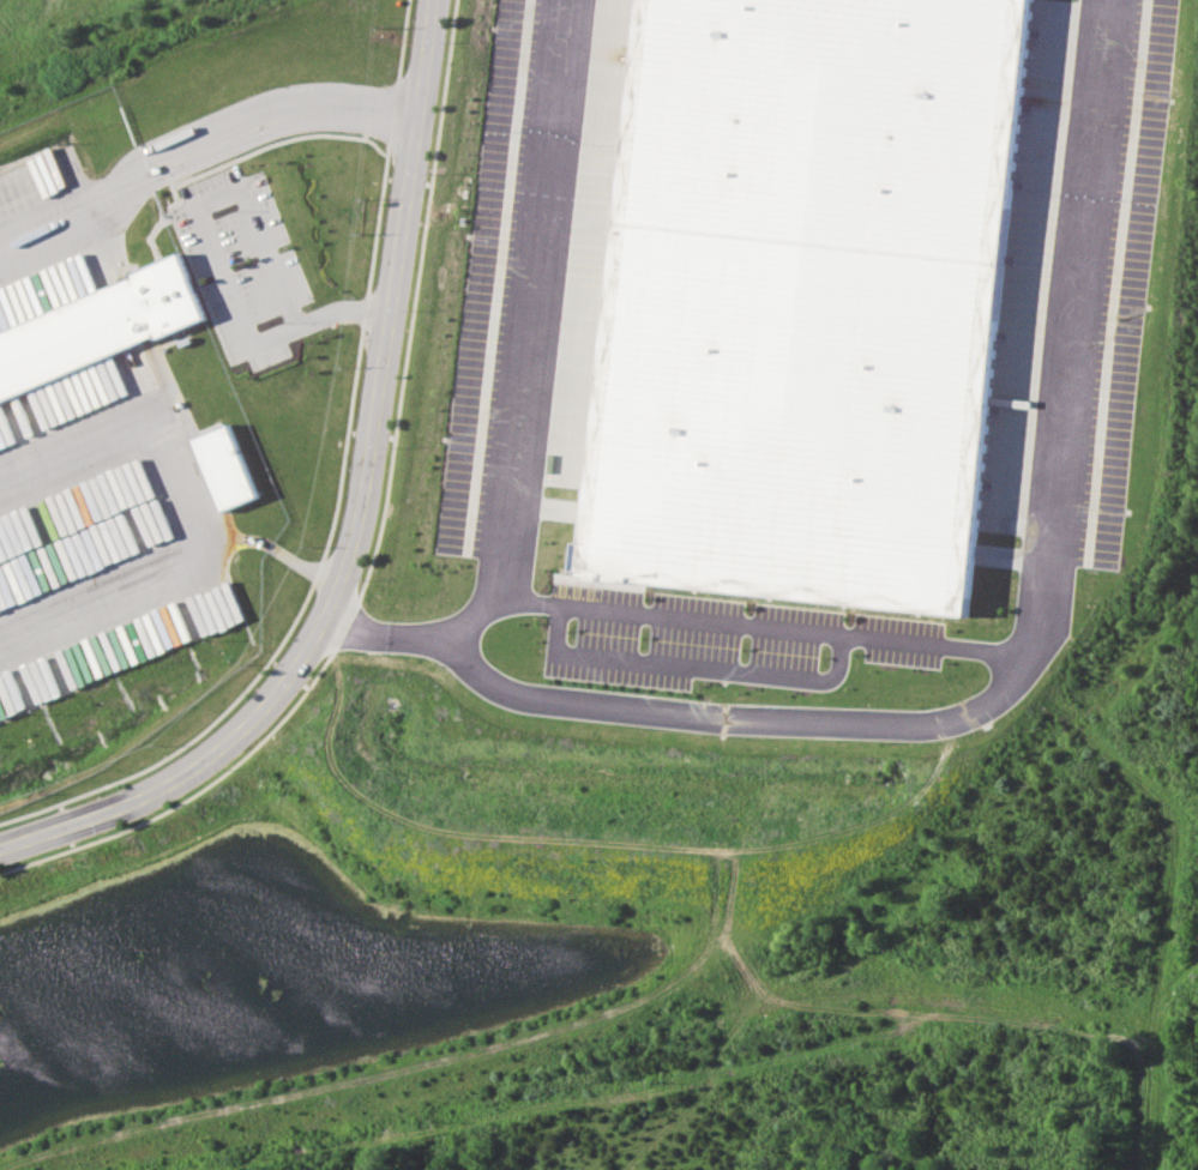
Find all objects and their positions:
road: (277, 117)
road: (72, 203)
road: (216, 252)
building: (803, 294)
building: (95, 327)
road: (532, 334)
building: (225, 468)
road: (366, 517)
road: (173, 568)
road: (759, 625)
parking lot: (717, 634)
road: (1001, 690)

